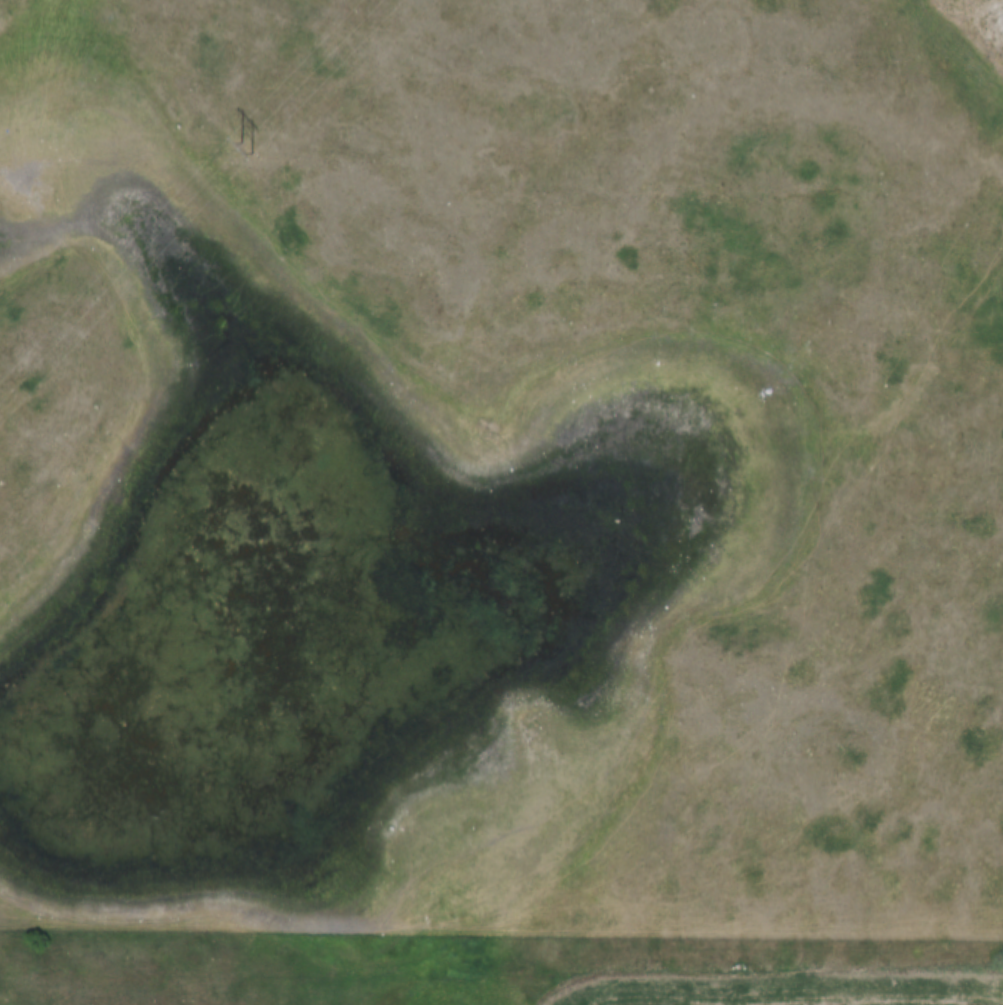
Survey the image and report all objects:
power tower: (251, 146)

